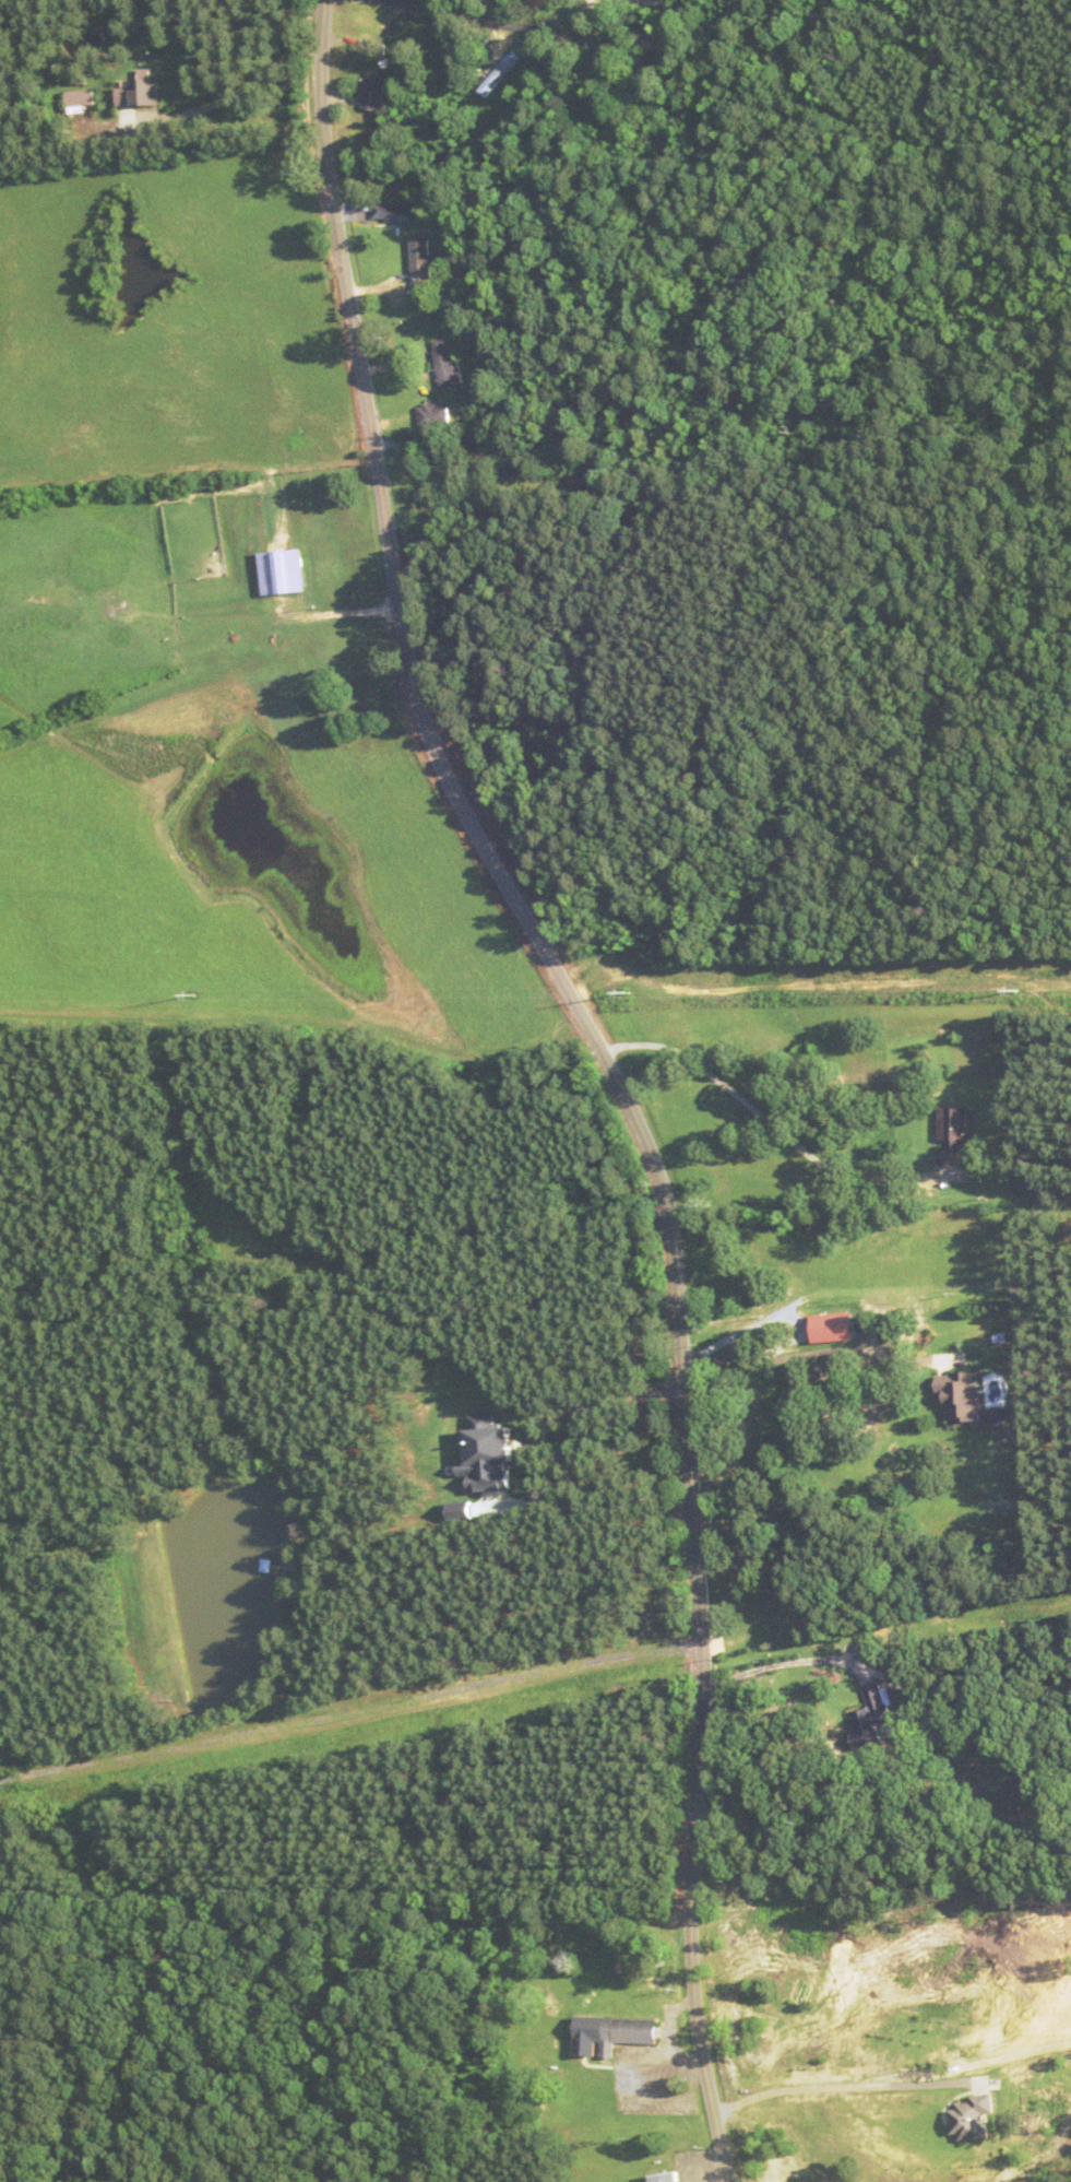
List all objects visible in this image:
building: (537, 2)
road: (495, 24)
building: (655, 54)
building: (500, 73)
building: (373, 90)
building: (393, 212)
building: (420, 263)
building: (447, 364)
building: (432, 415)
building: (487, 455)
building: (426, 503)
building: (282, 570)
road: (614, 1070)
building: (952, 1134)
building: (959, 1394)
building: (868, 1723)
building: (1000, 1732)
building: (614, 2030)
building: (666, 2174)

